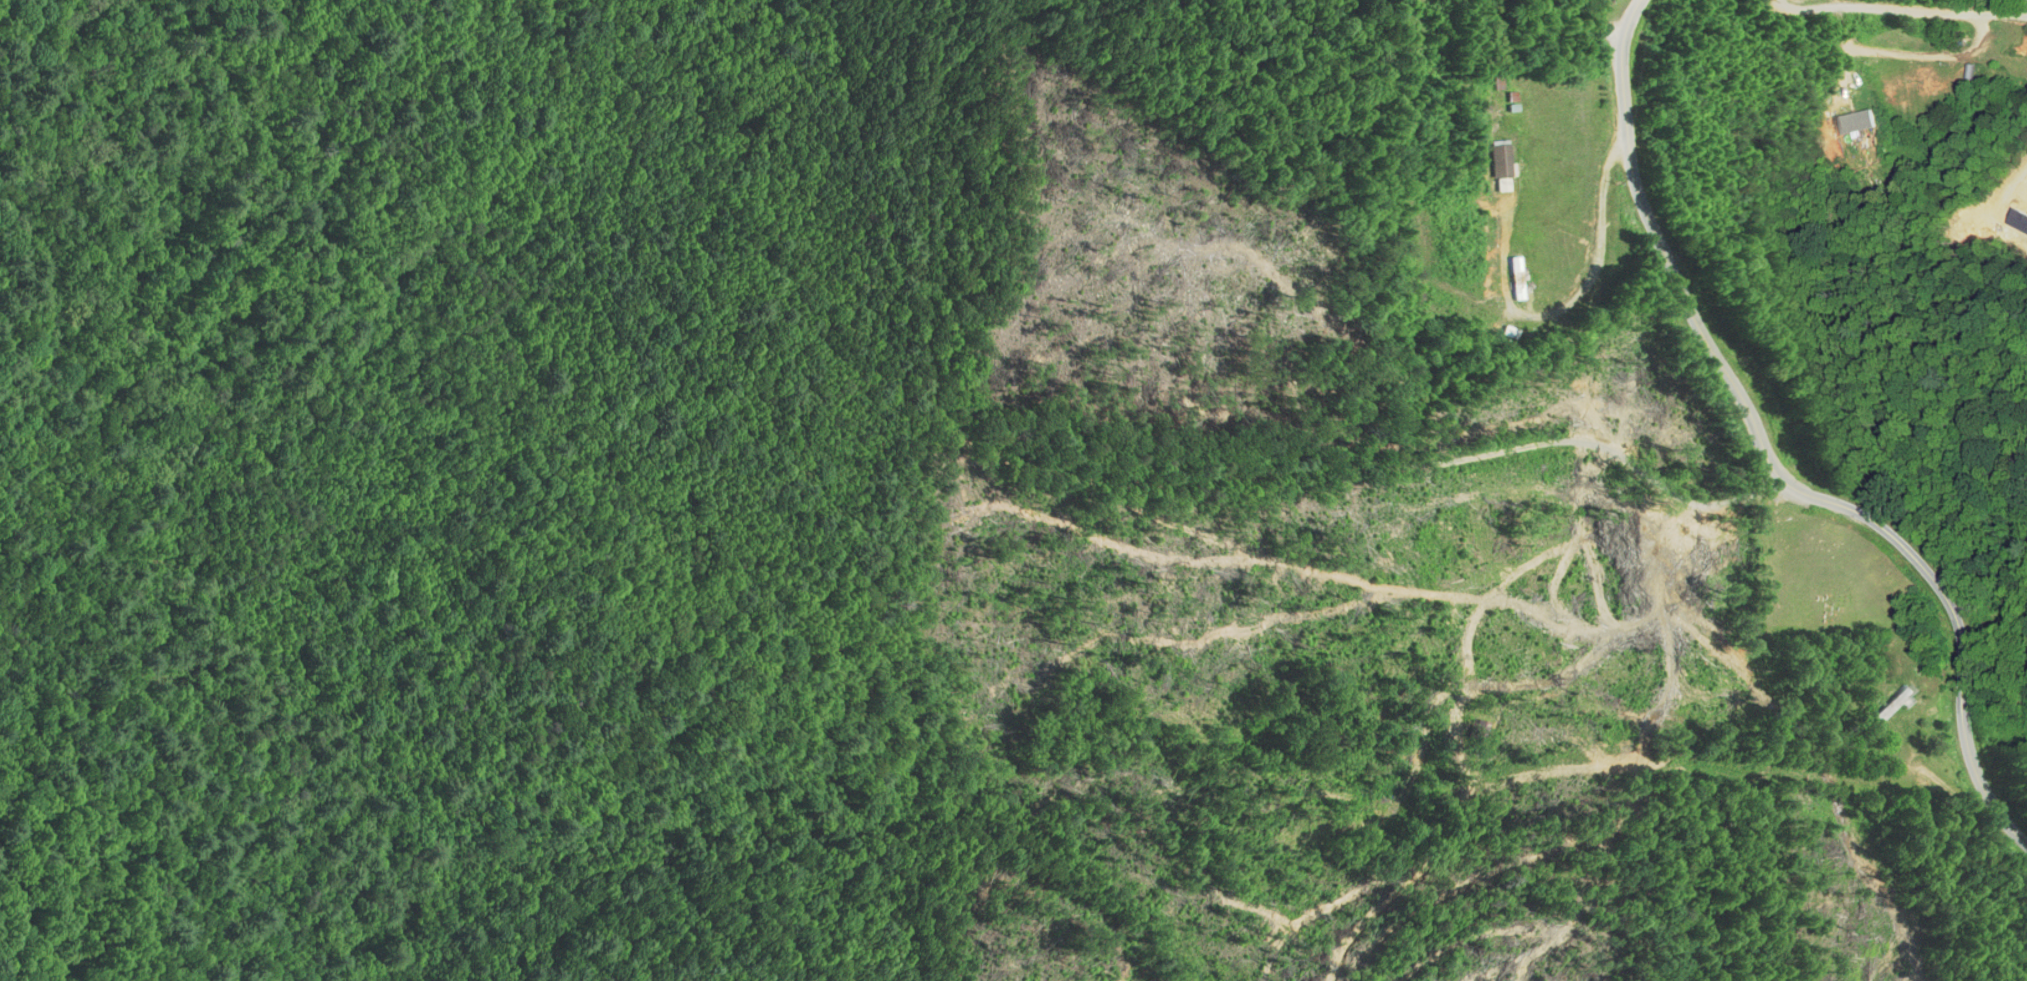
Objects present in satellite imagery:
road: (1901, 9)
road: (1601, 22)
road: (1910, 54)
building: (1859, 108)
building: (1501, 158)
building: (1515, 278)
road: (1575, 299)
road: (1769, 458)
road: (1121, 483)
road: (1520, 574)

